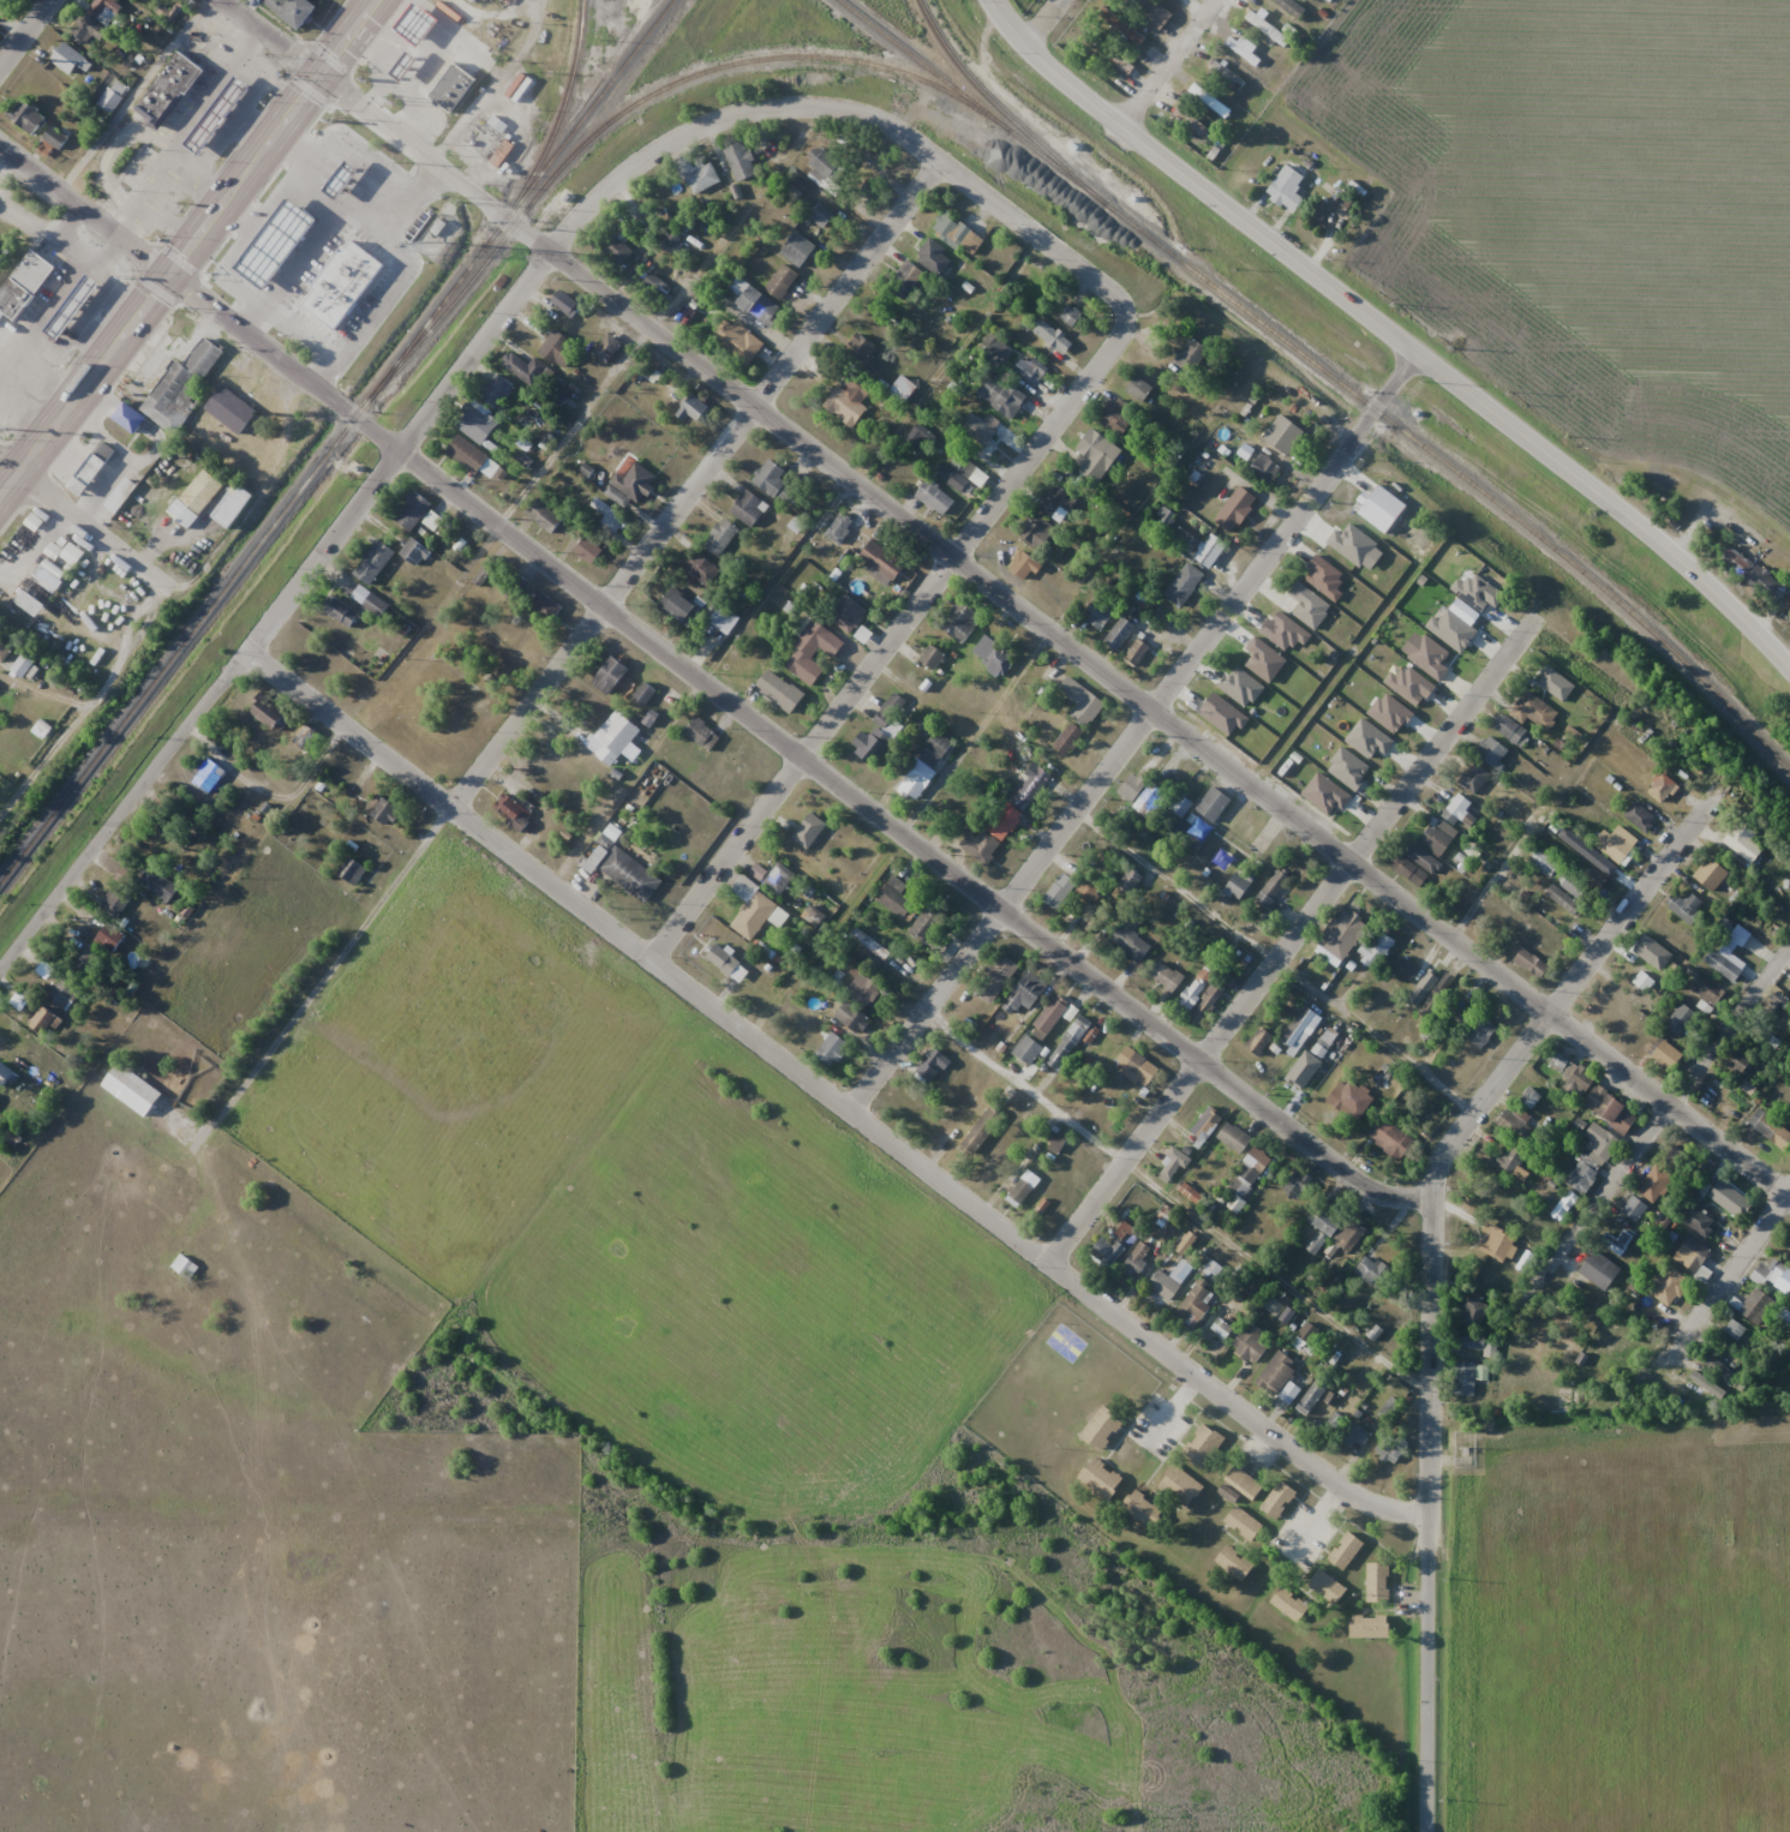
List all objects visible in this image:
building: (485, 0)
building: (1292, 7)
building: (294, 11)
building: (1154, 12)
building: (96, 19)
road: (1043, 20)
building: (421, 28)
building: (1268, 29)
road: (26, 35)
building: (1110, 55)
building: (68, 59)
road: (1166, 59)
road: (1052, 61)
building: (408, 70)
railway: (934, 72)
building: (1223, 76)
railway: (963, 78)
railway: (661, 86)
building: (169, 89)
building: (455, 91)
building: (109, 100)
building: (1210, 103)
railway: (562, 106)
road: (364, 109)
road: (846, 113)
building: (26, 116)
building: (221, 118)
road: (363, 154)
building: (741, 160)
building: (825, 169)
building: (701, 178)
building: (345, 181)
building: (1287, 187)
road: (285, 192)
road: (407, 198)
crop: (1590, 210)
building: (818, 214)
building: (959, 233)
building: (4, 246)
building: (280, 246)
road: (190, 250)
building: (617, 250)
building: (798, 250)
road: (303, 256)
building: (935, 257)
building: (905, 279)
building: (782, 282)
road: (844, 283)
building: (26, 287)
building: (657, 287)
road: (200, 297)
building: (565, 304)
building: (761, 306)
building: (77, 309)
road: (250, 315)
building: (1071, 316)
road: (364, 334)
building: (1053, 336)
building: (174, 339)
building: (740, 341)
building: (867, 345)
building: (609, 348)
building: (559, 349)
building: (995, 351)
building: (1192, 354)
road: (325, 369)
building: (527, 369)
building: (1030, 370)
building: (179, 385)
road: (1461, 387)
building: (903, 389)
building: (1139, 389)
building: (496, 390)
building: (1002, 396)
building: (558, 397)
building: (849, 401)
building: (694, 409)
building: (231, 411)
building: (1116, 417)
building: (130, 418)
building: (478, 423)
building: (986, 431)
building: (1285, 435)
building: (917, 437)
railway: (335, 441)
railway: (1421, 447)
building: (1096, 455)
building: (472, 457)
building: (1265, 468)
building: (92, 469)
building: (770, 478)
building: (952, 478)
building: (635, 480)
building: (120, 496)
building: (935, 497)
building: (196, 498)
building: (1053, 501)
building: (749, 508)
building: (1237, 509)
building: (412, 510)
building: (606, 515)
building: (544, 516)
building: (1163, 517)
road: (80, 520)
building: (839, 527)
building: (1036, 531)
building: (1210, 550)
building: (414, 552)
building: (22, 553)
building: (882, 559)
building: (373, 562)
building: (1024, 567)
building: (701, 569)
building: (485, 570)
building: (1754, 576)
building: (370, 601)
road: (600, 606)
building: (680, 607)
building: (340, 611)
road: (72, 612)
building: (848, 613)
road: (275, 615)
building: (720, 621)
building: (962, 622)
building: (1119, 634)
road: (891, 636)
building: (4, 652)
building: (812, 652)
building: (1137, 652)
building: (994, 654)
building: (933, 658)
building: (610, 676)
building: (1552, 681)
building: (779, 692)
building: (643, 693)
building: (1082, 701)
road: (88, 706)
road: (1149, 707)
building: (1531, 710)
building: (267, 712)
building: (880, 730)
building: (1510, 730)
road: (1133, 731)
building: (702, 735)
building: (304, 737)
building: (616, 737)
building: (1068, 738)
building: (1491, 750)
building: (926, 766)
building: (208, 776)
building: (1473, 778)
building: (1132, 786)
building: (1663, 788)
building: (1149, 801)
building: (1183, 803)
building: (1455, 808)
building: (513, 810)
building: (385, 812)
building: (1006, 816)
building: (1640, 816)
building: (808, 830)
building: (1207, 830)
building: (1439, 837)
road: (908, 840)
building: (1743, 842)
building: (1612, 850)
building: (1540, 862)
building: (1414, 863)
building: (622, 868)
building: (352, 869)
building: (1711, 869)
building: (778, 879)
building: (1130, 880)
building: (157, 882)
building: (1239, 884)
building: (1274, 887)
building: (1088, 890)
building: (1059, 891)
building: (894, 897)
building: (1563, 899)
building: (115, 900)
building: (1684, 906)
building: (753, 915)
building: (814, 916)
building: (927, 923)
building: (1342, 933)
building: (110, 936)
building: (1130, 938)
road: (1289, 939)
building: (1377, 950)
building: (1648, 953)
building: (88, 962)
building: (728, 963)
building: (1531, 963)
building: (1724, 963)
building: (1403, 969)
building: (1167, 976)
building: (995, 977)
building: (1789, 988)
building: (61, 990)
building: (862, 990)
building: (1707, 992)
building: (1204, 993)
building: (1024, 995)
building: (1463, 1012)
building: (37, 1016)
building: (855, 1019)
building: (1680, 1019)
road: (1539, 1020)
building: (1040, 1029)
building: (1299, 1029)
building: (1480, 1031)
building: (1259, 1040)
building: (1068, 1042)
building: (834, 1047)
building: (1662, 1052)
building: (1735, 1055)
building: (936, 1060)
building: (1145, 1071)
building: (1303, 1073)
building: (5, 1074)
building: (1576, 1076)
building: (131, 1089)
building: (0, 1096)
road: (832, 1096)
building: (1529, 1096)
building: (1716, 1097)
building: (1349, 1098)
building: (1617, 1113)
road: (228, 1118)
road: (1656, 1125)
building: (1515, 1126)
building: (981, 1130)
building: (1771, 1130)
building: (1234, 1138)
building: (1391, 1139)
building: (1056, 1140)
building: (1675, 1159)
building: (1510, 1161)
building: (1173, 1166)
building: (1250, 1173)
building: (1581, 1175)
building: (1297, 1184)
building: (1654, 1184)
building: (1023, 1189)
building: (1728, 1197)
building: (1632, 1210)
building: (1698, 1221)
building: (1321, 1228)
building: (1348, 1234)
building: (1620, 1240)
building: (1497, 1245)
building: (1788, 1246)
building: (1107, 1250)
building: (1690, 1255)
building: (1596, 1264)
building: (184, 1265)
building: (1372, 1270)
road: (1730, 1270)
building: (1772, 1275)
building: (1171, 1280)
building: (1668, 1287)
building: (1196, 1304)
building: (1755, 1306)
building: (1473, 1313)
building: (1732, 1329)
building: (1372, 1331)
building: (1307, 1333)
building: (1472, 1343)
building: (1250, 1345)
building: (1719, 1369)
building: (1468, 1377)
building: (1279, 1378)
building: (1312, 1395)
building: (1389, 1407)
building: (1324, 1408)
building: (1333, 1424)
building: (1102, 1427)
building: (1354, 1436)
building: (1203, 1445)
building: (1101, 1478)
building: (1244, 1483)
building: (1180, 1485)
building: (1279, 1498)
building: (1143, 1509)
road: (1429, 1514)
building: (1244, 1523)
building: (1346, 1550)
building: (1234, 1562)
road: (1005, 1573)
building: (1377, 1582)
building: (1328, 1586)
building: (1289, 1604)
building: (1370, 1624)

